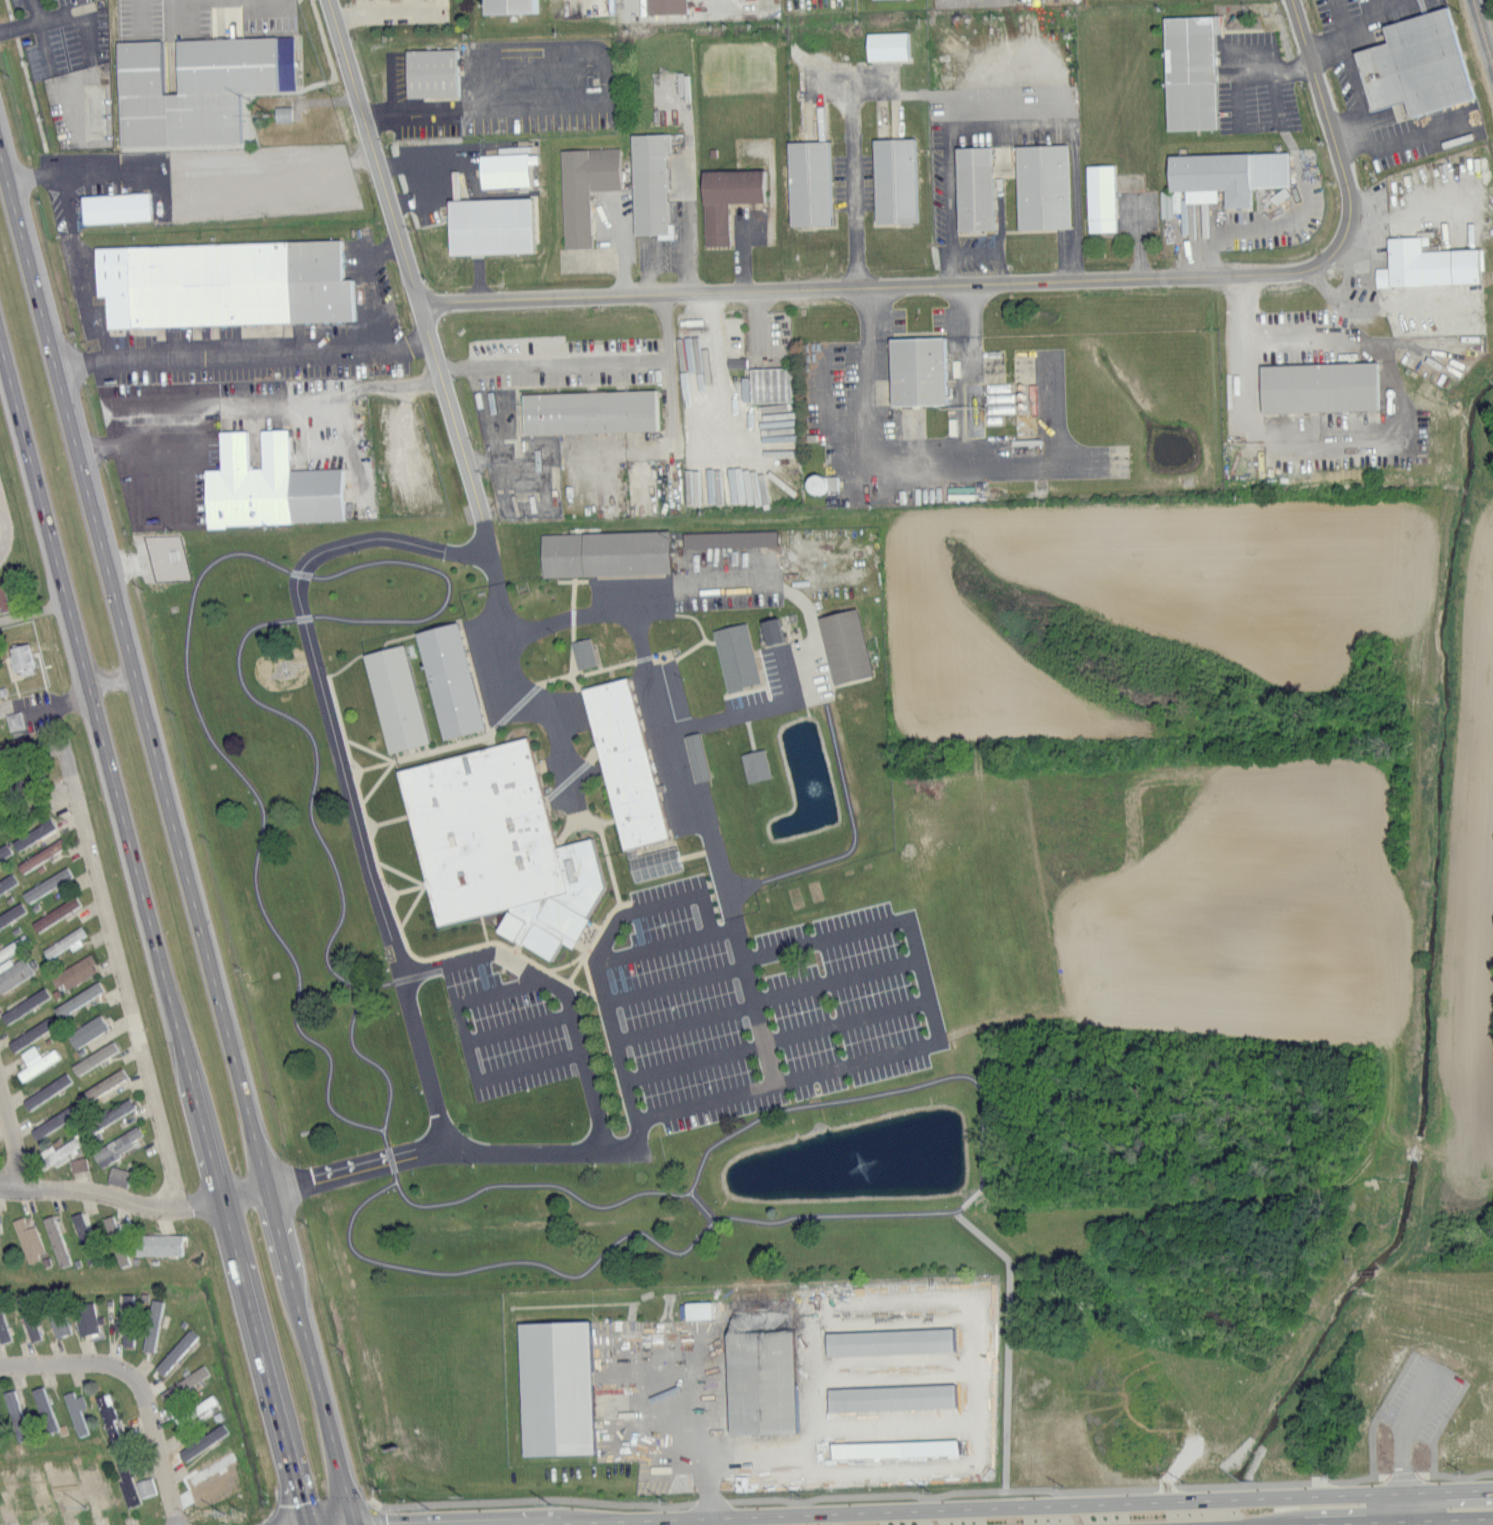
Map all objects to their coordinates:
building: (392, 0)
road: (975, 1)
road: (382, 2)
building: (507, 6)
building: (665, 6)
road: (1371, 10)
railway: (1487, 19)
road: (20, 27)
road: (43, 35)
building: (886, 45)
road: (1328, 47)
building: (1414, 64)
building: (1189, 71)
building: (429, 73)
road: (1356, 85)
building: (194, 87)
road: (479, 108)
road: (1238, 109)
building: (281, 113)
road: (1331, 120)
road: (1073, 127)
road: (1420, 134)
road: (851, 137)
building: (503, 167)
road: (83, 168)
building: (1225, 175)
building: (893, 180)
building: (807, 183)
building: (649, 185)
building: (1041, 186)
building: (583, 188)
building: (972, 188)
building: (1279, 195)
road: (951, 198)
building: (1099, 198)
building: (725, 199)
building: (1175, 200)
building: (114, 206)
building: (488, 226)
road: (1263, 226)
road: (1137, 237)
road: (407, 253)
building: (1426, 264)
building: (221, 281)
road: (887, 287)
road: (968, 309)
road: (865, 313)
road: (761, 326)
road: (1295, 328)
road: (244, 352)
road: (587, 364)
building: (916, 368)
road: (723, 377)
building: (1317, 385)
road: (253, 397)
road: (669, 401)
building: (588, 410)
building: (420, 465)
road: (923, 467)
building: (820, 481)
building: (267, 483)
road: (480, 521)
road: (2, 528)
building: (728, 537)
building: (603, 551)
road: (393, 561)
road: (639, 599)
building: (5, 600)
building: (770, 628)
building: (843, 644)
building: (582, 651)
building: (735, 655)
building: (24, 658)
road: (134, 672)
building: (448, 678)
road: (521, 686)
building: (393, 696)
road: (806, 696)
building: (13, 720)
parking lot: (569, 721)
building: (18, 743)
building: (696, 755)
building: (623, 761)
building: (754, 764)
road: (346, 766)
road: (674, 770)
building: (30, 781)
road: (852, 819)
building: (33, 831)
building: (496, 846)
building: (2, 852)
building: (43, 854)
building: (654, 862)
building: (6, 880)
building: (50, 884)
road: (740, 887)
building: (11, 912)
building: (54, 913)
road: (154, 935)
building: (65, 941)
building: (14, 946)
road: (667, 948)
road: (477, 953)
road: (757, 960)
building: (77, 972)
building: (15, 973)
road: (923, 978)
road: (398, 979)
road: (123, 983)
building: (79, 997)
road: (767, 999)
road: (460, 1000)
parking lot: (765, 1005)
road: (756, 1006)
building: (22, 1007)
parking lot: (515, 1021)
road: (521, 1028)
building: (88, 1030)
building: (30, 1036)
road: (779, 1039)
building: (98, 1058)
road: (585, 1058)
building: (40, 1063)
road: (530, 1067)
road: (789, 1079)
building: (105, 1085)
road: (871, 1094)
building: (45, 1095)
building: (111, 1113)
building: (51, 1121)
road: (10, 1142)
building: (119, 1142)
road: (634, 1145)
road: (390, 1153)
building: (58, 1154)
fountain: (868, 1156)
building: (77, 1163)
building: (117, 1175)
road: (540, 1183)
road: (972, 1199)
road: (134, 1201)
road: (702, 1205)
road: (838, 1215)
building: (87, 1233)
building: (31, 1239)
building: (58, 1239)
building: (118, 1240)
building: (155, 1247)
road: (505, 1262)
road: (908, 1298)
building: (126, 1318)
building: (90, 1319)
building: (32, 1320)
building: (60, 1321)
building: (154, 1324)
building: (3, 1330)
building: (896, 1341)
building: (174, 1351)
road: (311, 1355)
building: (763, 1363)
road: (1445, 1373)
park: (1399, 1375)
building: (188, 1383)
road: (138, 1384)
building: (559, 1387)
building: (898, 1398)
building: (48, 1407)
building: (199, 1410)
building: (77, 1415)
building: (17, 1416)
building: (109, 1416)
building: (212, 1433)
road: (675, 1436)
building: (901, 1449)
road: (1425, 1469)
building: (218, 1473)
building: (129, 1482)
building: (144, 1486)
road: (1104, 1486)
building: (39, 1490)
road: (544, 1498)
road: (920, 1504)
road: (717, 1512)
traffic signals: (355, 1522)
road: (1431, 1522)
road: (355, 1523)

